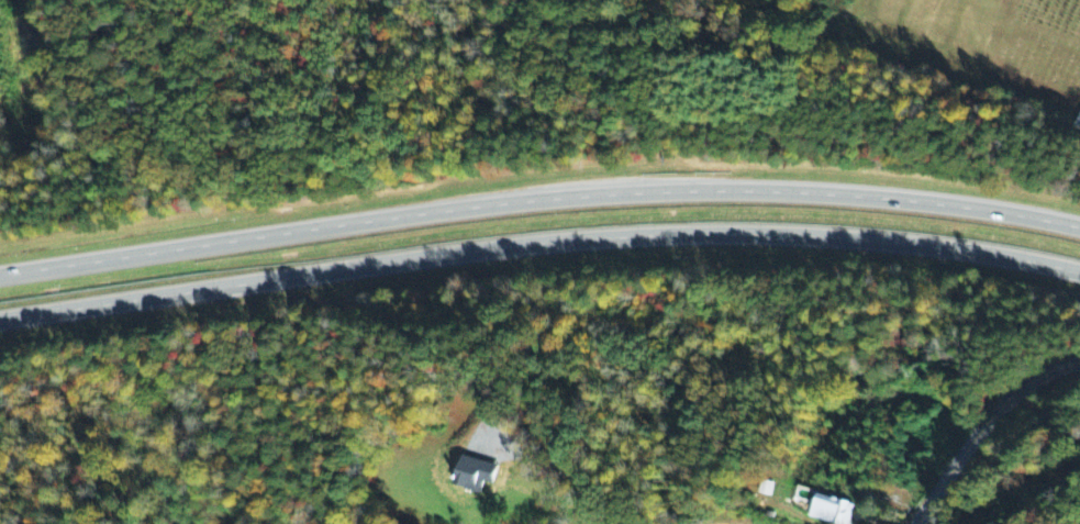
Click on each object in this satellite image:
road: (538, 199)
road: (538, 243)
road: (982, 424)
building: (765, 488)
building: (831, 510)

